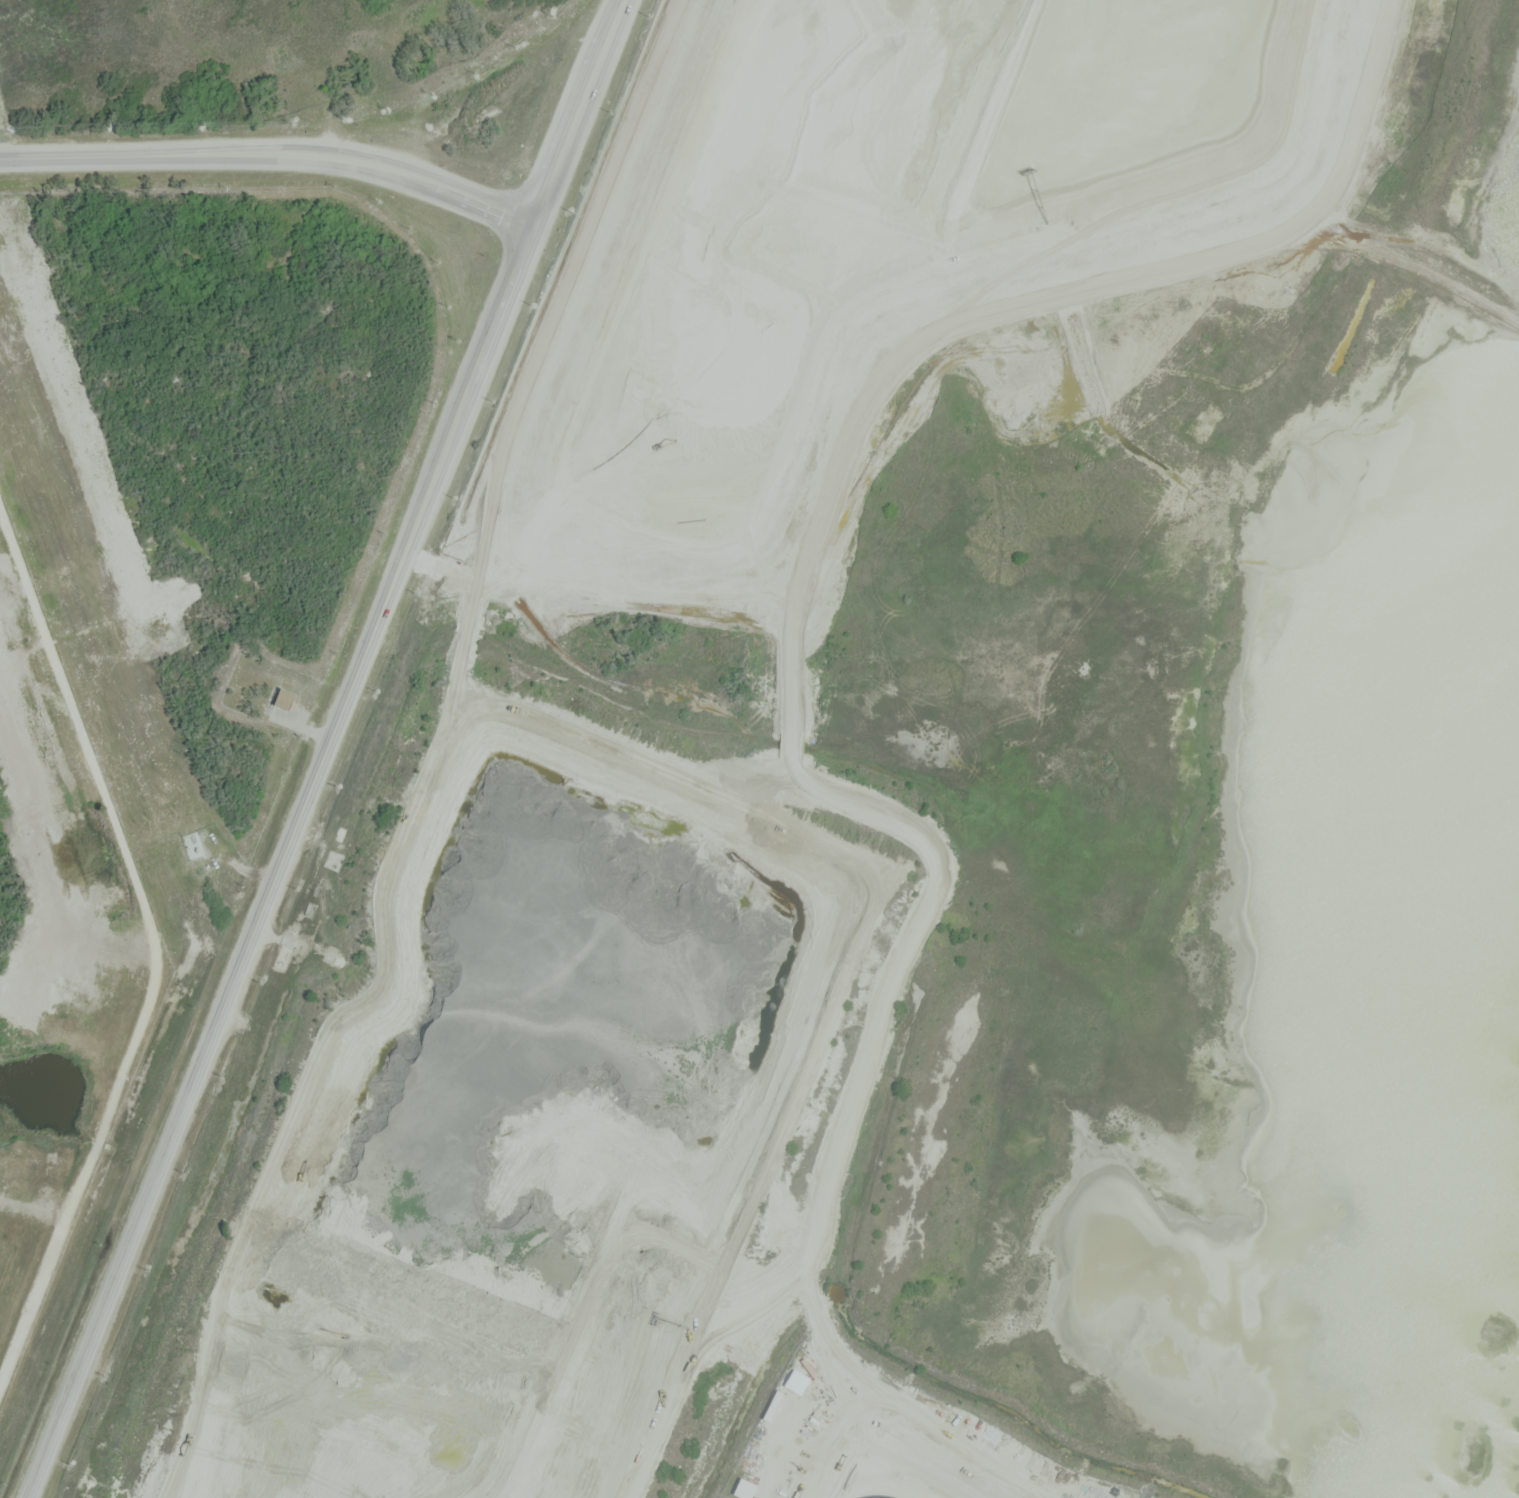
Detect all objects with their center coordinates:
road: (579, 112)
road: (275, 152)
road: (1237, 159)
building: (286, 700)
road: (283, 861)
building: (747, 1488)

